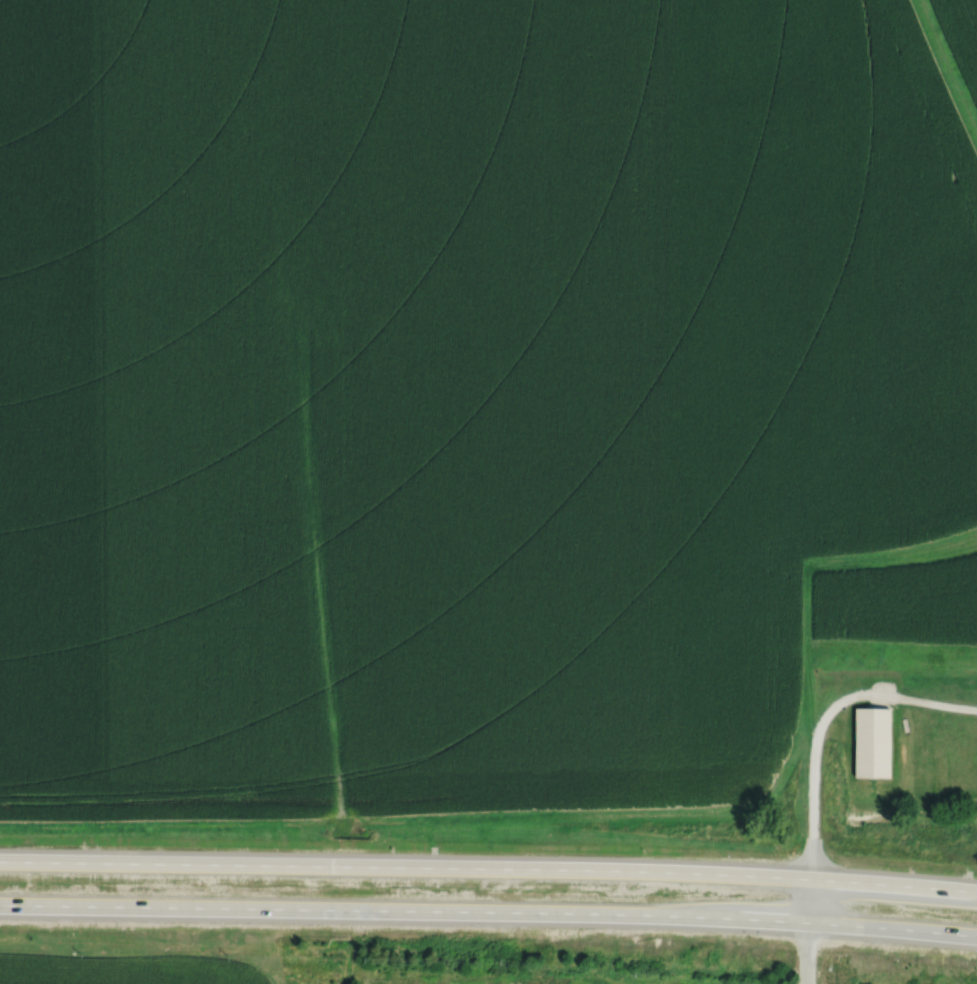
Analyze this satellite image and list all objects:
road: (826, 718)
building: (871, 744)
road: (488, 867)
road: (488, 911)
road: (809, 931)

